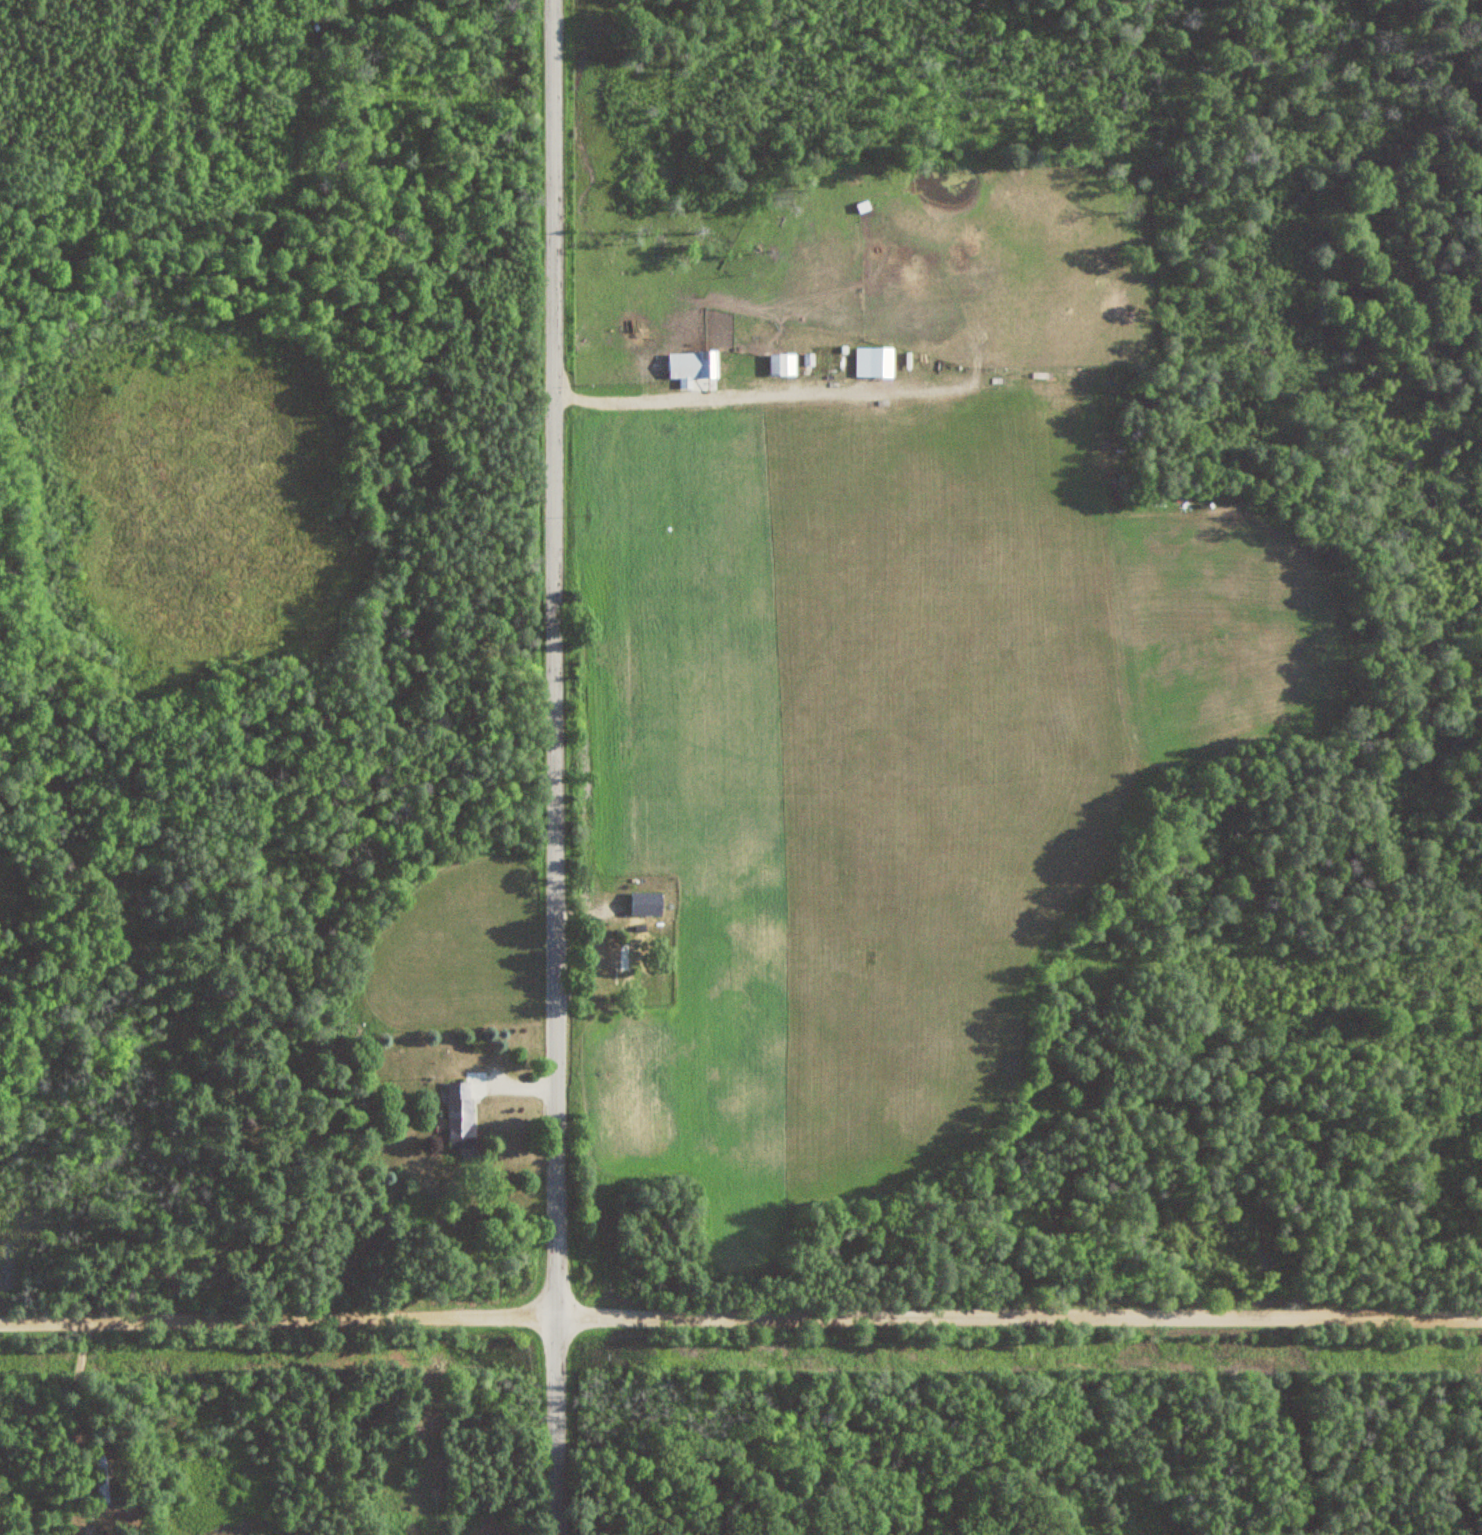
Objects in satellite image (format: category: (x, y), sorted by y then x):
building: (783, 364)
building: (692, 366)
road: (545, 767)
building: (623, 956)
building: (460, 1114)
road: (740, 1290)
building: (100, 1479)

